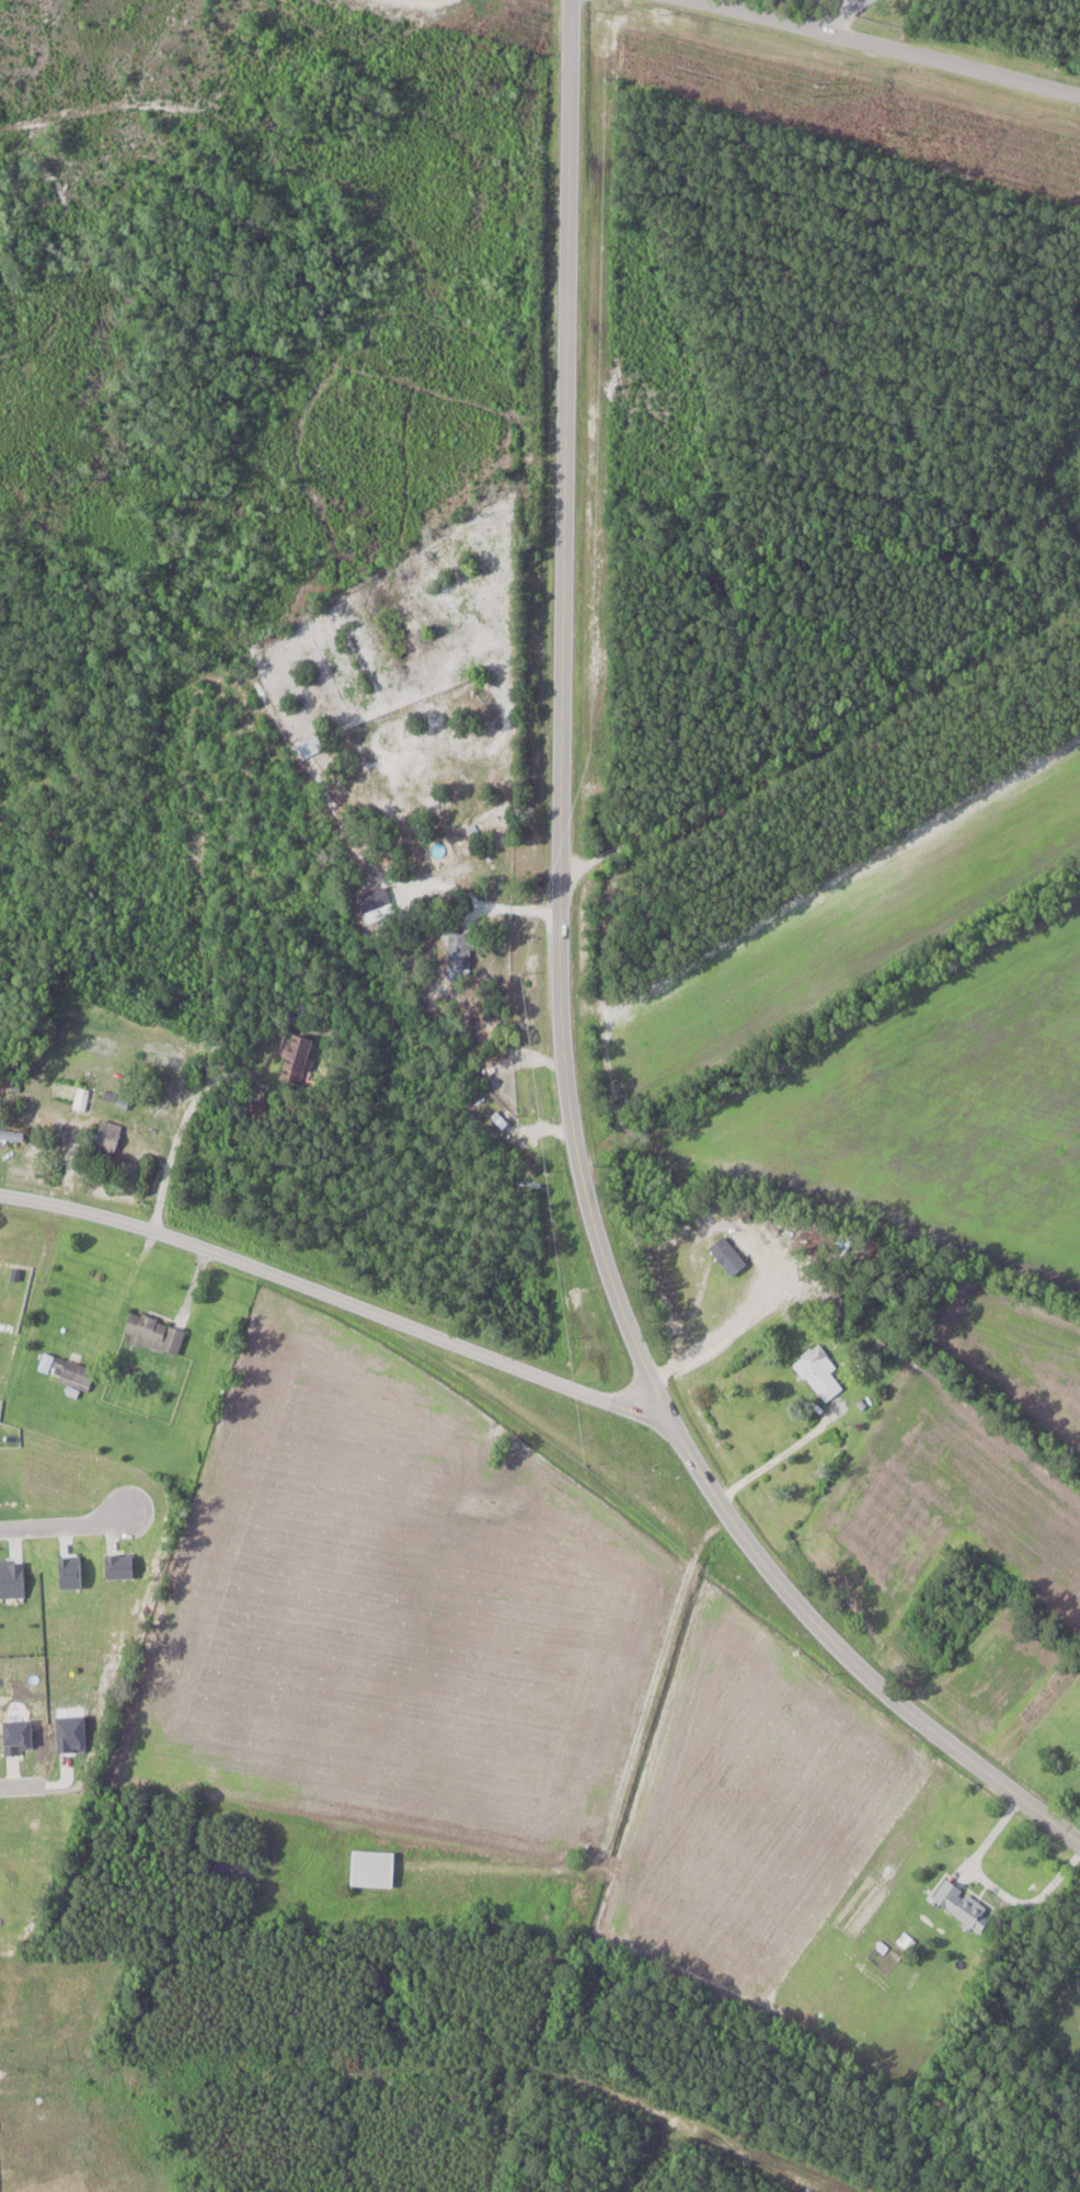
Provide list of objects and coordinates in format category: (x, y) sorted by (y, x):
road: (848, 13)
park: (949, 20)
road: (891, 47)
power tower: (812, 89)
building: (312, 746)
building: (461, 954)
road: (560, 1015)
building: (300, 1059)
building: (118, 1098)
building: (83, 1101)
building: (501, 1120)
road: (182, 1124)
building: (12, 1135)
building: (111, 1137)
road: (335, 1298)
road: (729, 1331)
building: (154, 1334)
building: (820, 1372)
building: (72, 1374)
road: (780, 1455)
road: (65, 1525)
road: (22, 1785)
building: (376, 1868)
road: (992, 1886)
building: (965, 1906)
road: (4, 2074)

